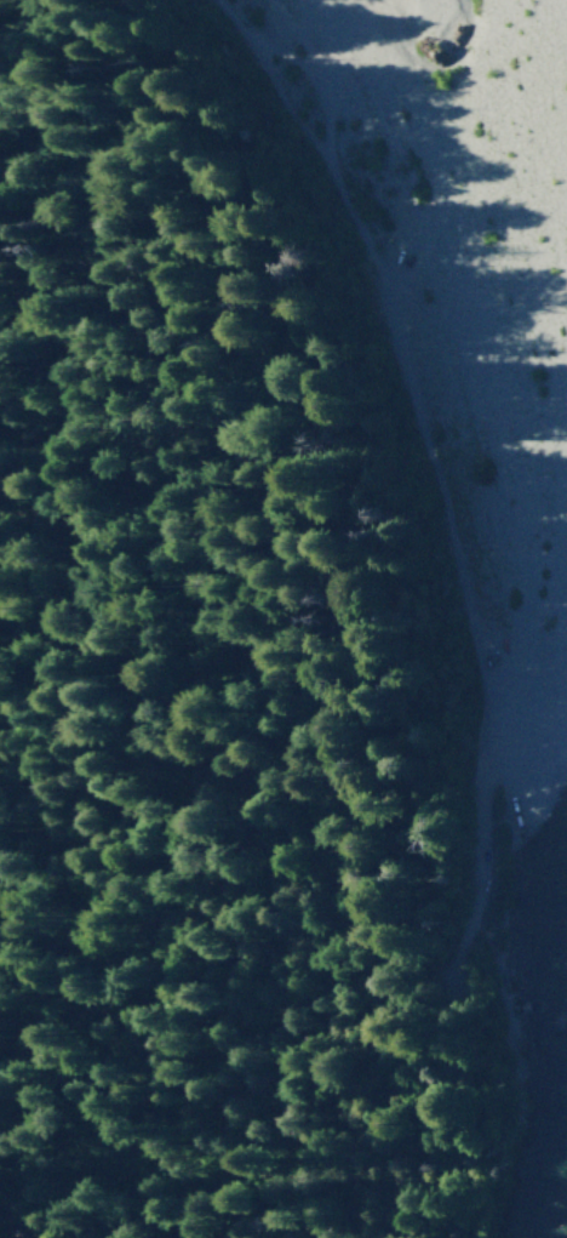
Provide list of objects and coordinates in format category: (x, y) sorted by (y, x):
road: (445, 993)
road: (0, 1237)

